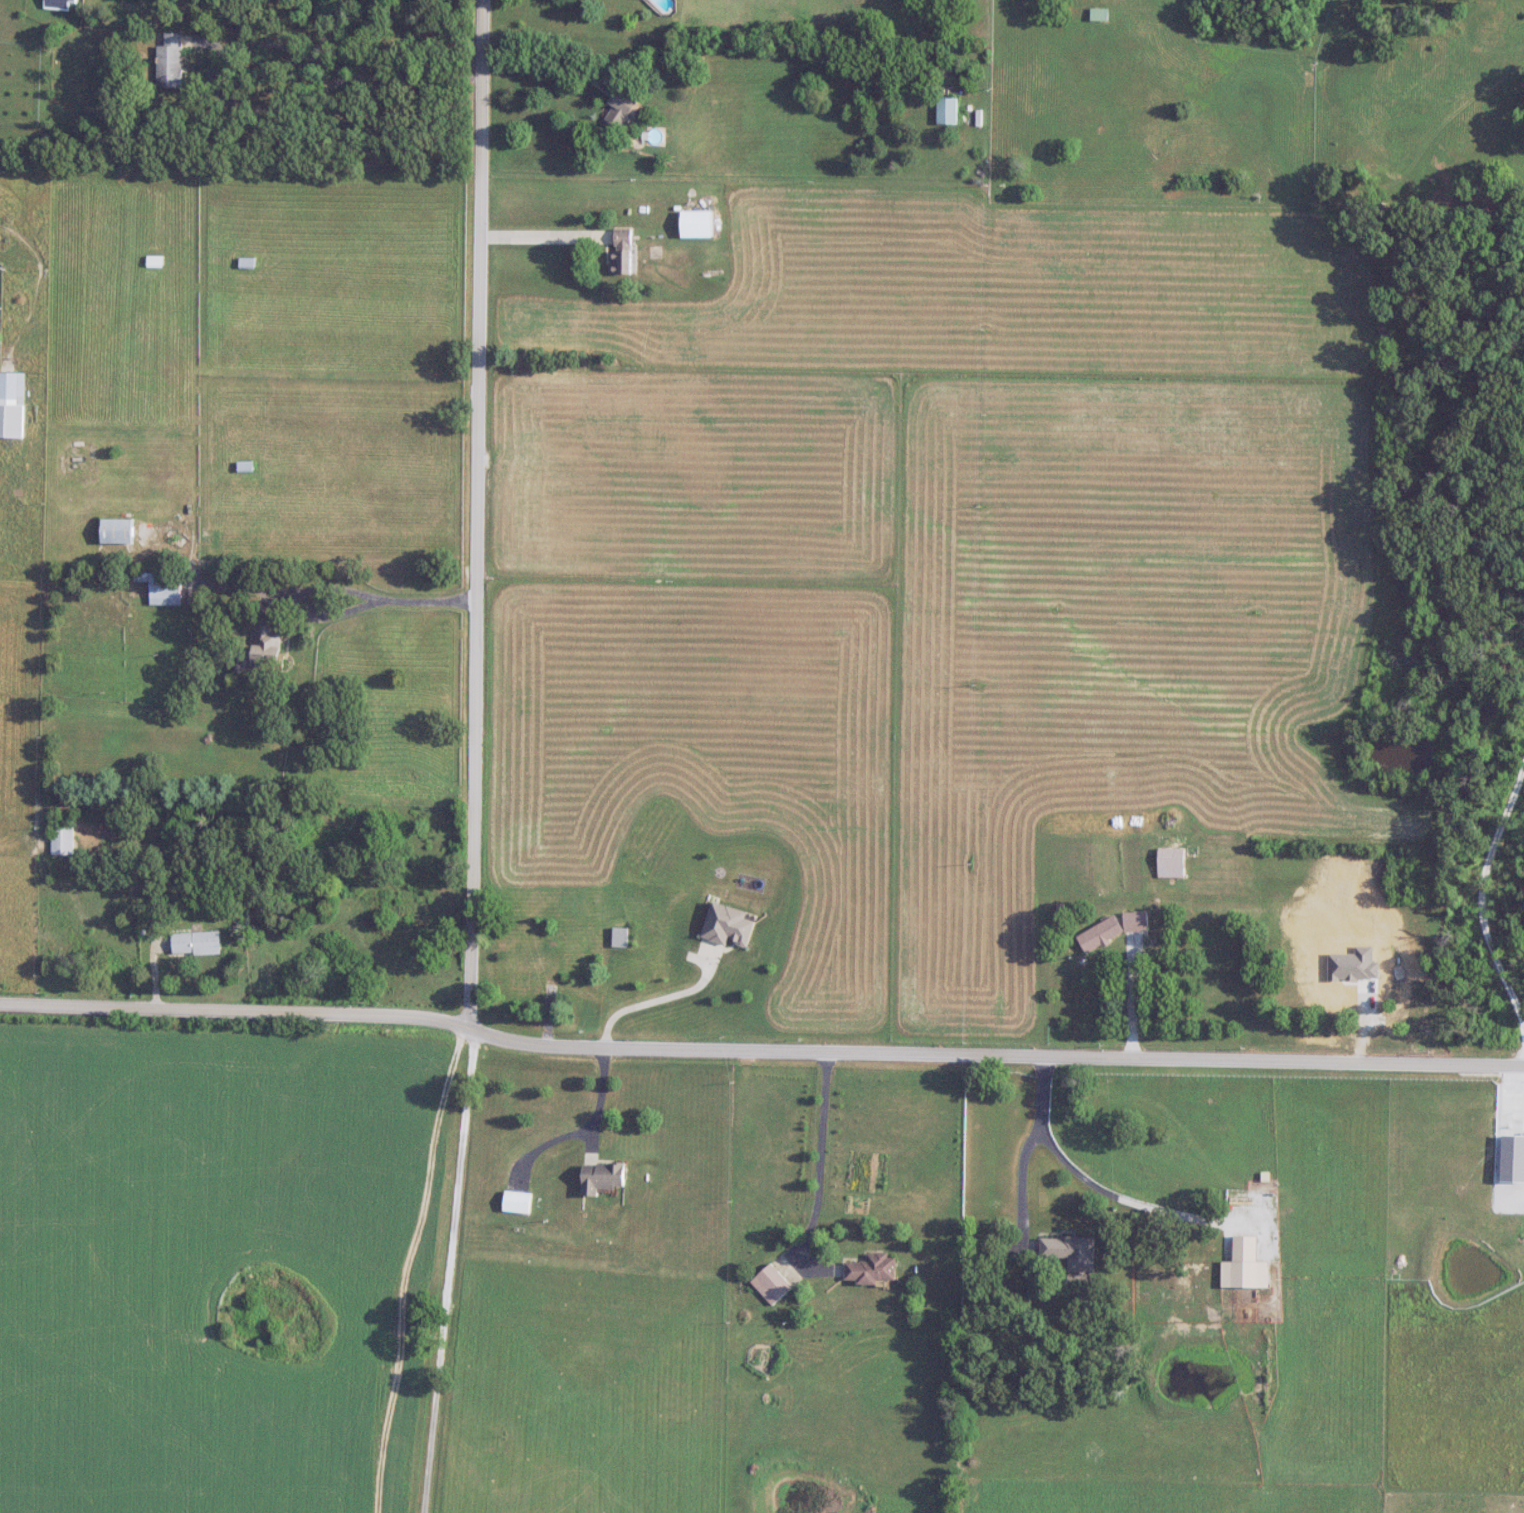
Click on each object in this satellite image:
building: (60, 4)
building: (1101, 15)
building: (1404, 15)
road: (253, 44)
road: (545, 54)
building: (170, 62)
building: (623, 110)
building: (948, 112)
building: (700, 223)
road: (544, 236)
building: (624, 252)
building: (155, 262)
building: (248, 263)
building: (12, 405)
building: (247, 467)
road: (482, 513)
building: (119, 531)
building: (166, 588)
road: (342, 590)
building: (267, 645)
building: (63, 838)
building: (1170, 863)
road: (1488, 888)
building: (575, 903)
building: (546, 913)
building: (1112, 930)
building: (620, 937)
building: (197, 943)
building: (553, 966)
building: (524, 974)
building: (1348, 978)
road: (1134, 998)
road: (660, 999)
road: (240, 1008)
road: (1000, 1051)
road: (598, 1096)
building: (1512, 1160)
road: (815, 1168)
building: (605, 1178)
road: (1089, 1180)
building: (519, 1202)
building: (1069, 1252)
building: (1244, 1267)
road: (458, 1269)
building: (870, 1270)
building: (773, 1285)

